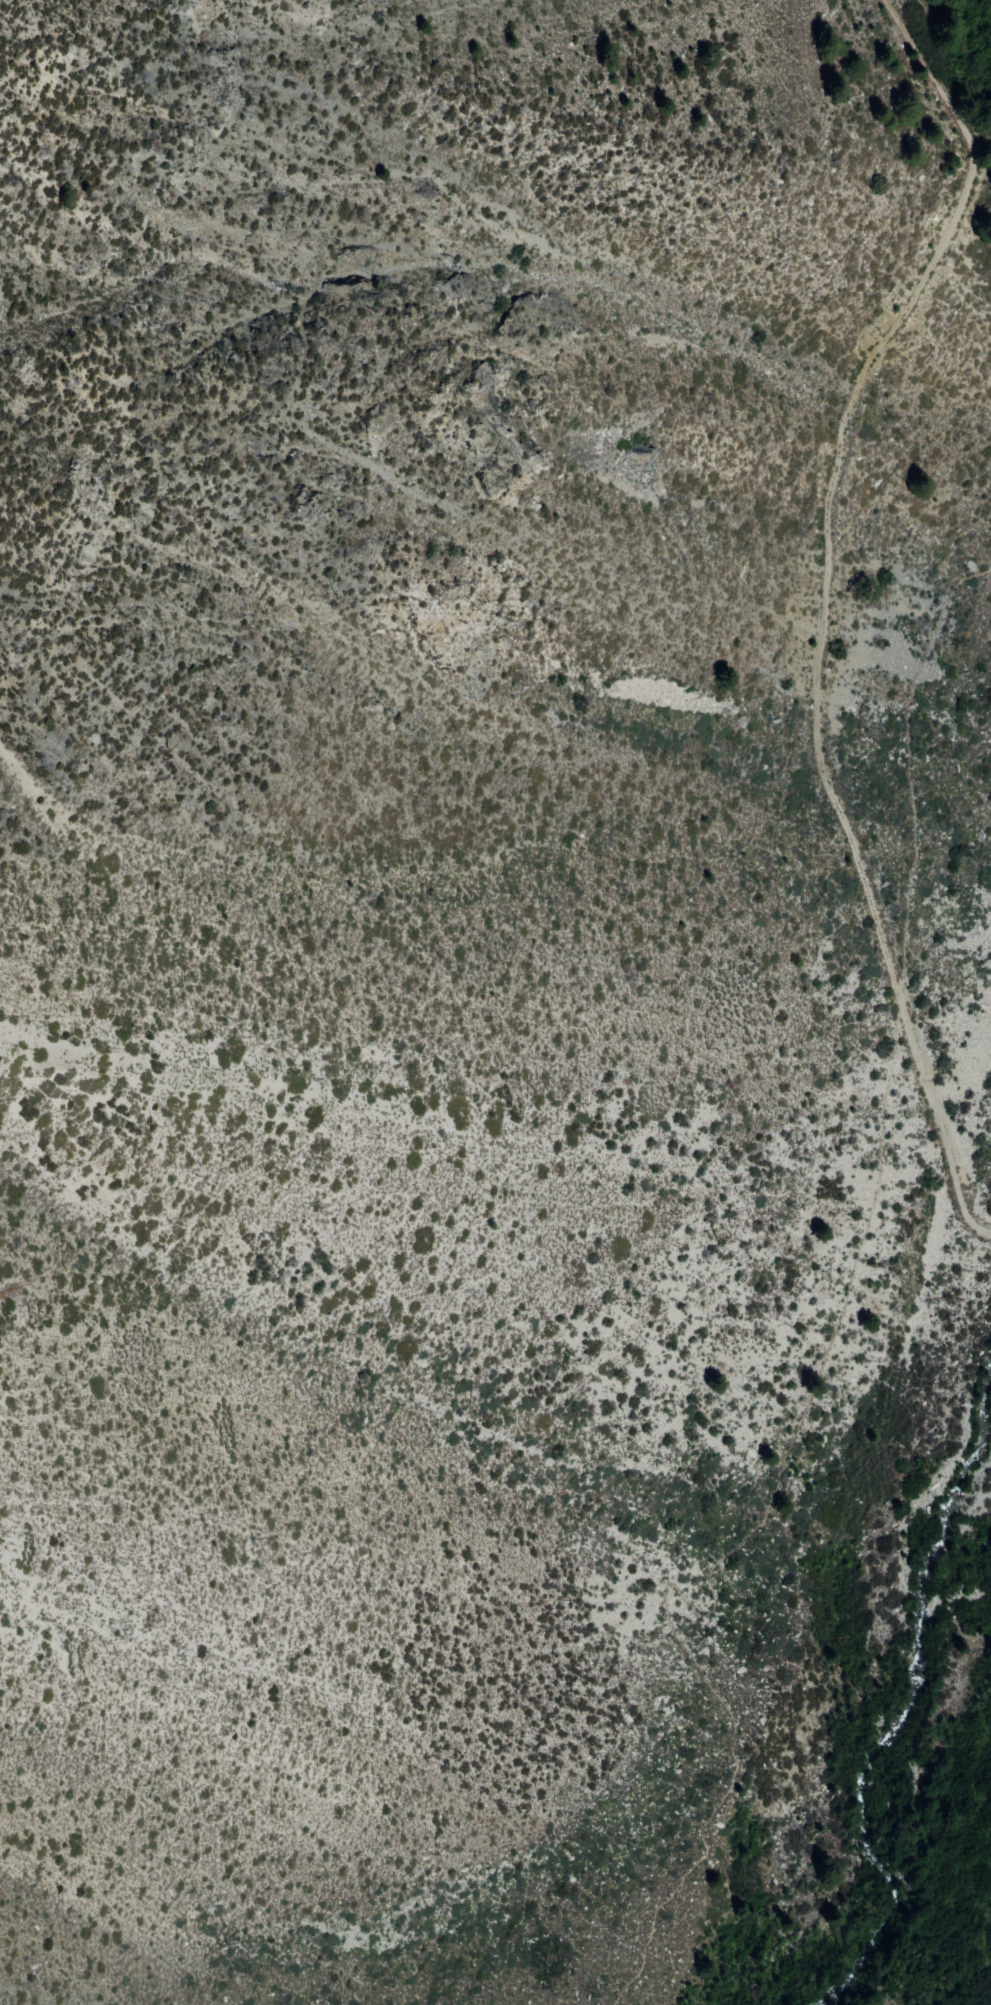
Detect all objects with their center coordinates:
road: (947, 45)
road: (986, 98)
road: (981, 128)
road: (831, 480)
road: (910, 769)
road: (941, 1123)
road: (725, 1550)

